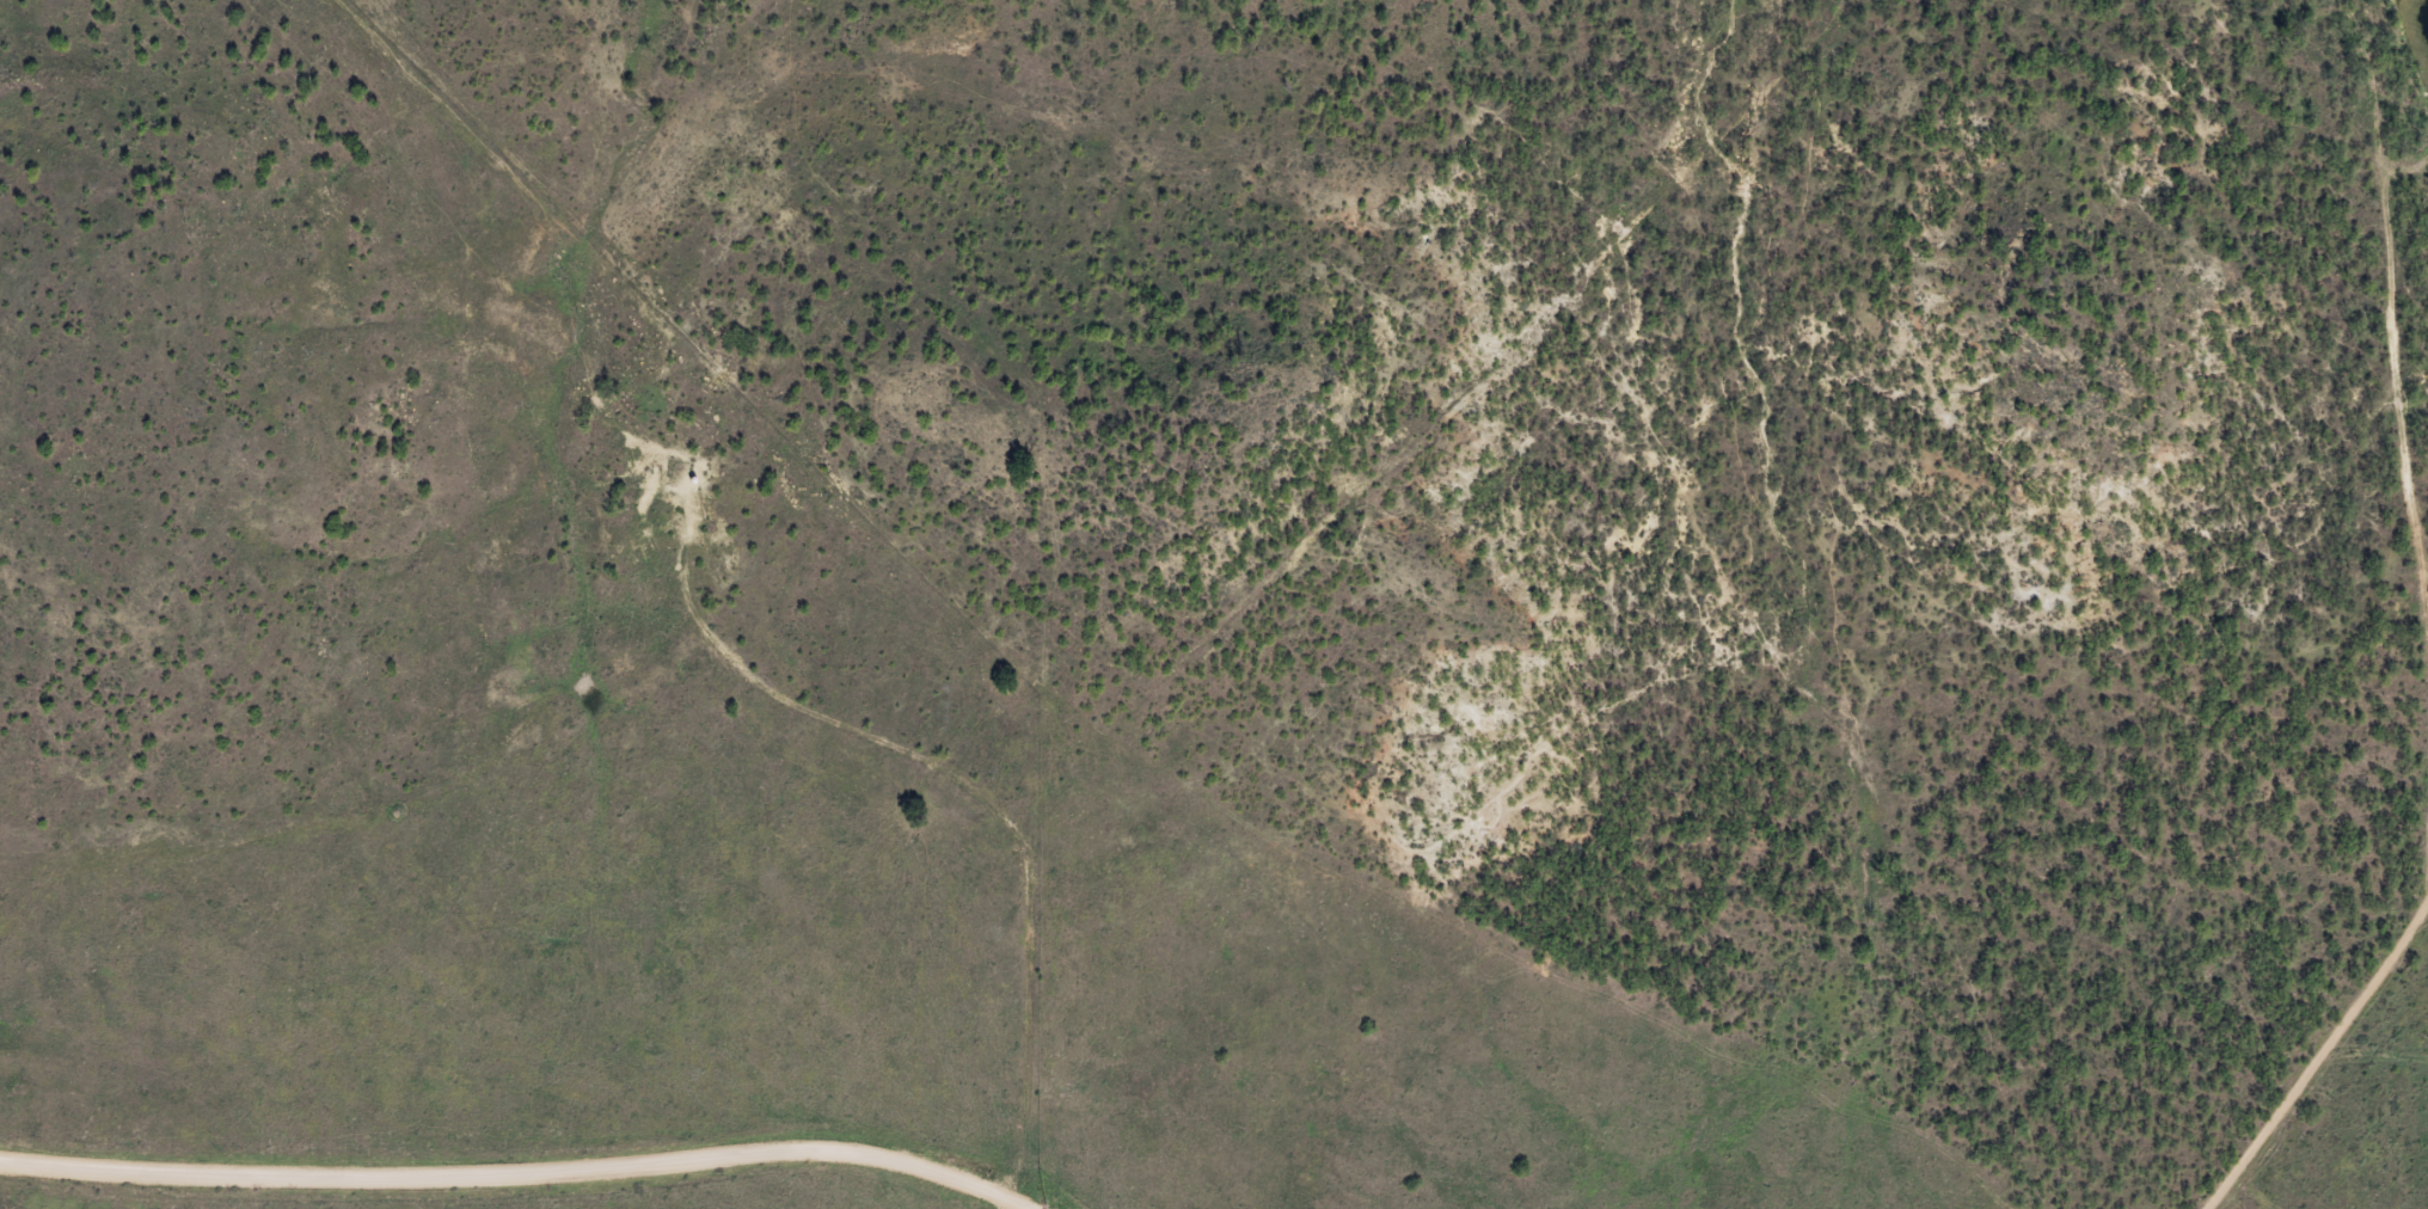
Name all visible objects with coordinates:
road: (2314, 1063)
road: (470, 1190)

